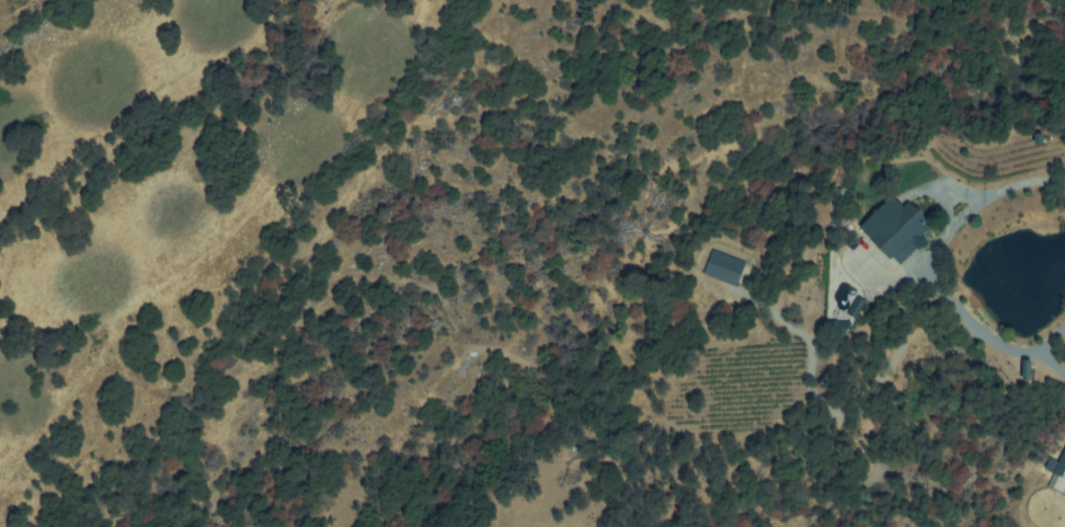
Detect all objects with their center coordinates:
building: (898, 228)
road: (983, 336)
building: (1062, 471)

